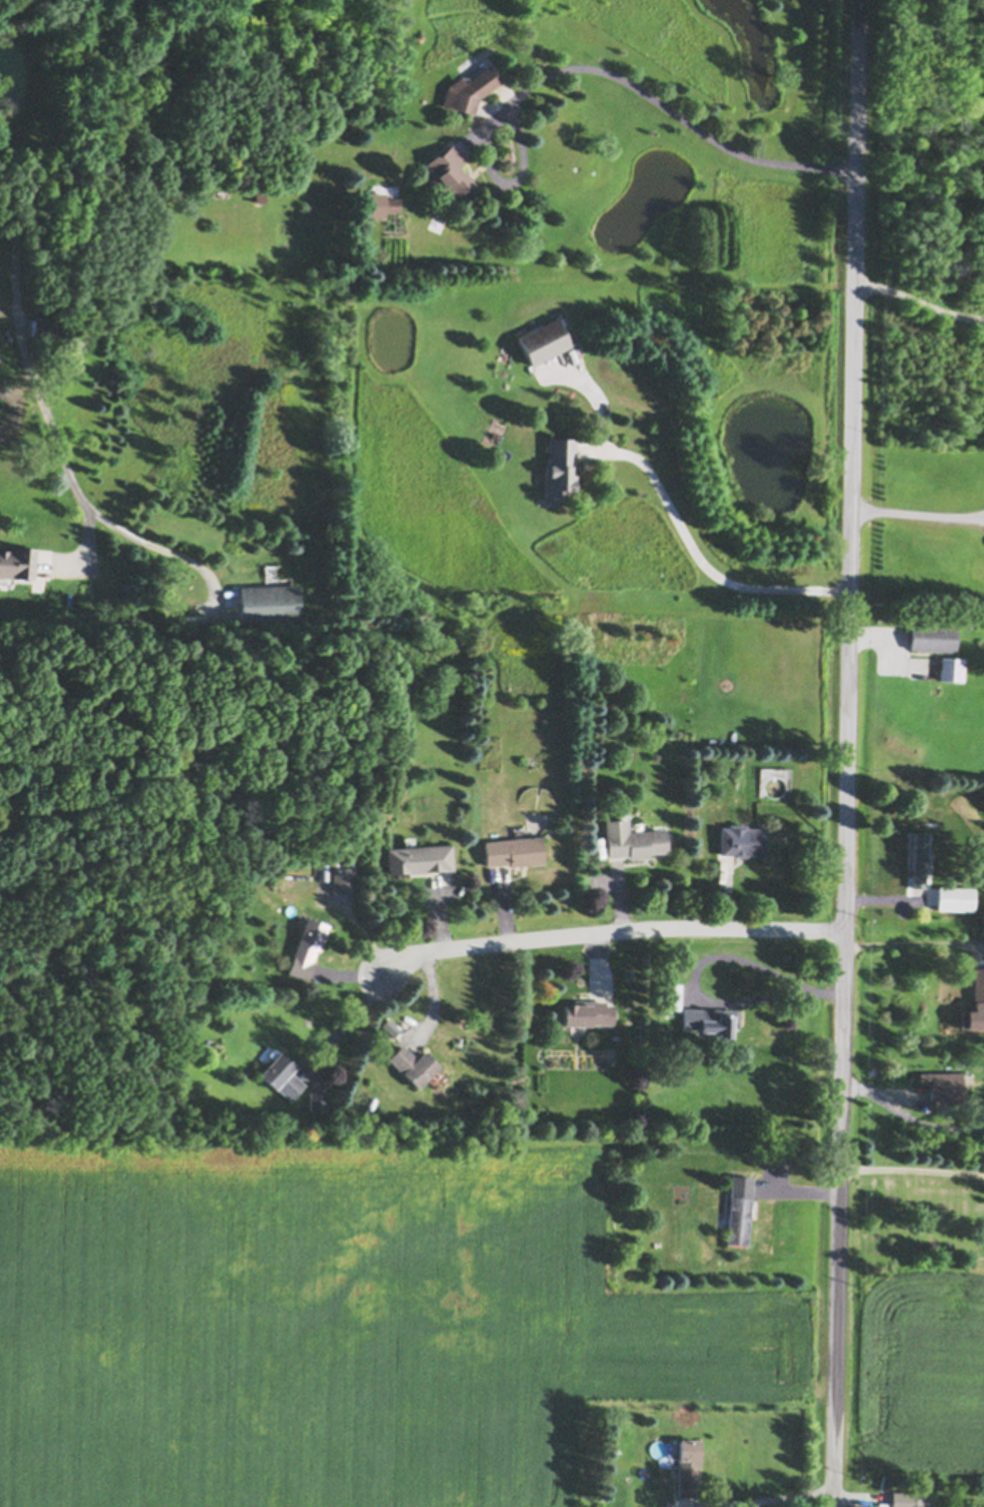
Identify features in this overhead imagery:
building: (470, 87)
road: (681, 110)
building: (451, 170)
building: (261, 192)
building: (392, 202)
road: (920, 292)
road: (11, 295)
building: (42, 326)
building: (544, 338)
building: (560, 467)
road: (918, 509)
road: (702, 540)
road: (159, 543)
building: (18, 561)
building: (269, 601)
road: (885, 635)
building: (933, 635)
building: (952, 666)
road: (849, 753)
building: (632, 837)
building: (742, 838)
building: (515, 848)
building: (421, 857)
building: (920, 857)
building: (344, 878)
building: (956, 896)
road: (611, 933)
road: (914, 943)
building: (308, 946)
road: (695, 990)
building: (671, 995)
building: (975, 1001)
building: (589, 1011)
building: (711, 1018)
road: (344, 1019)
building: (414, 1063)
building: (282, 1074)
building: (944, 1085)
building: (318, 1098)
building: (371, 1103)
road: (910, 1115)
road: (913, 1163)
building: (740, 1208)
building: (688, 1466)
road: (771, 1491)
building: (908, 1498)

